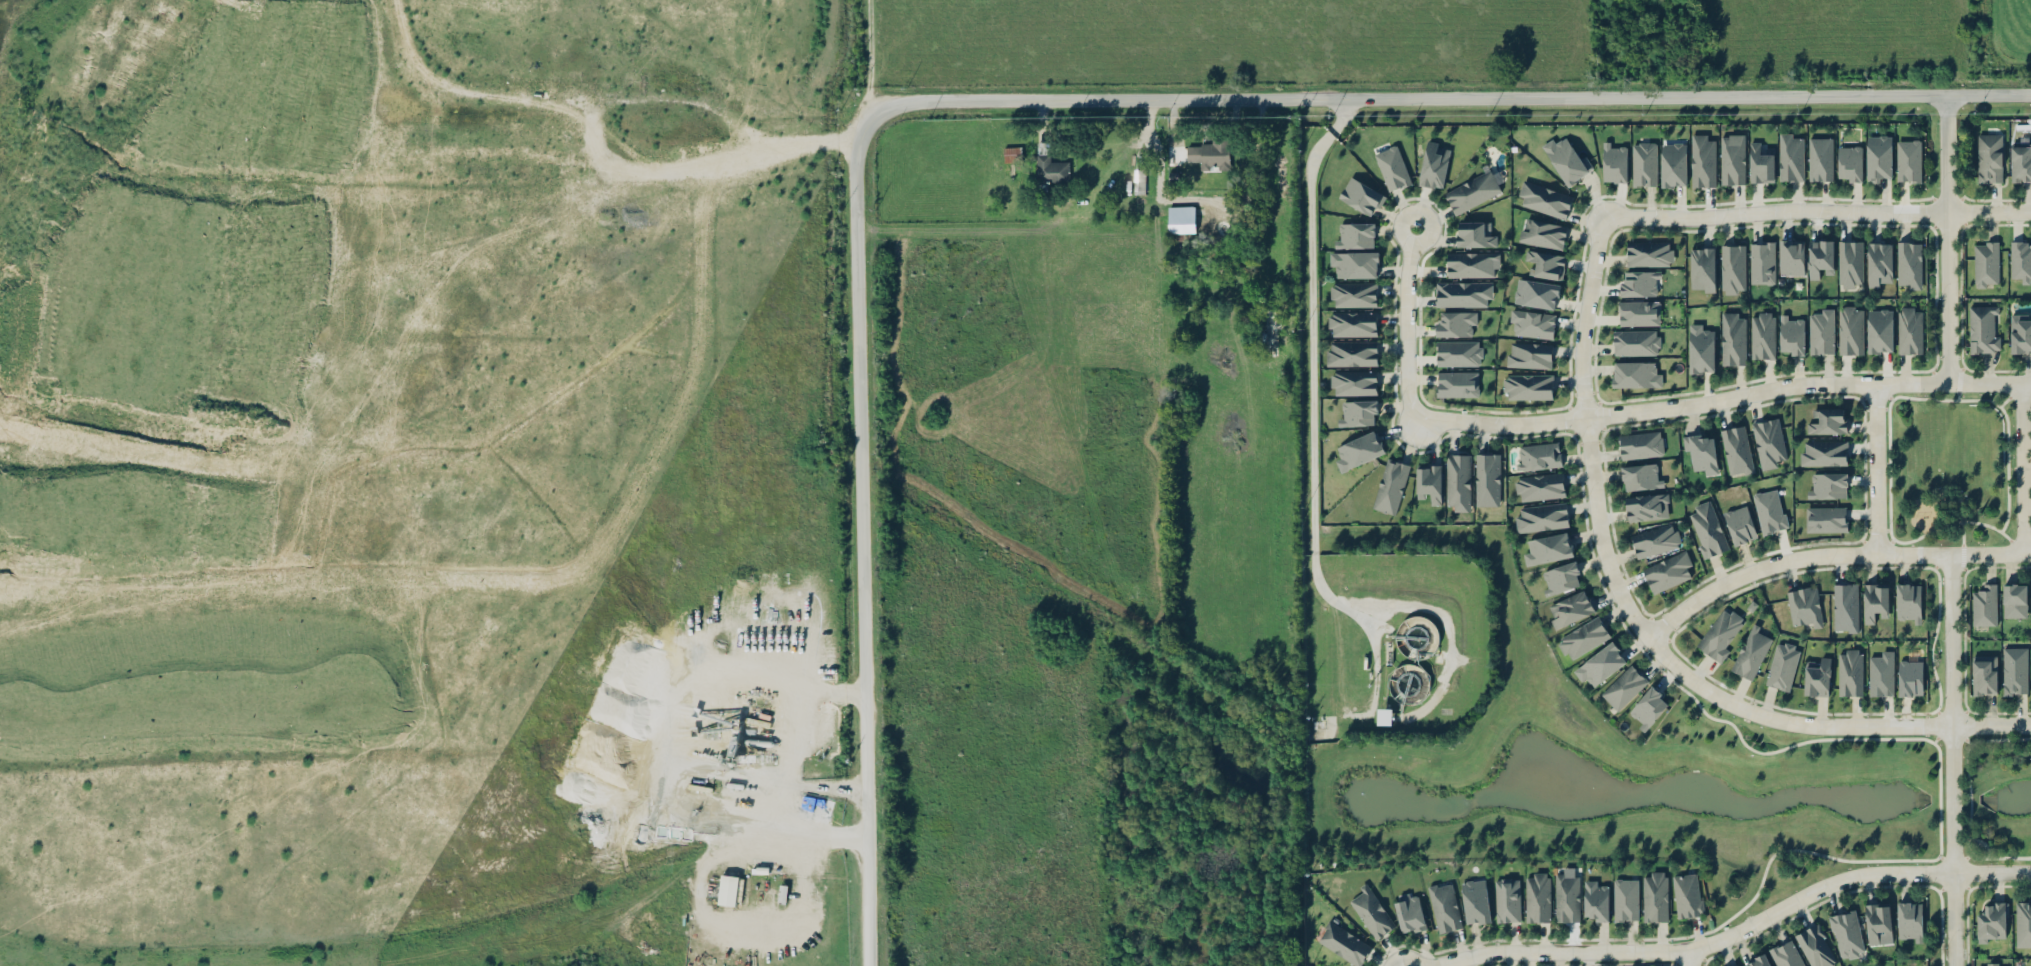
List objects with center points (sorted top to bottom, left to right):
road: (870, 62)
road: (1446, 97)
road: (785, 149)
building: (1012, 153)
building: (1211, 153)
building: (1791, 156)
building: (1879, 157)
building: (1989, 157)
building: (1566, 158)
building: (1732, 158)
building: (1821, 159)
building: (1703, 160)
building: (1909, 160)
building: (1614, 161)
building: (1761, 162)
building: (2020, 162)
building: (1849, 163)
building: (1434, 164)
building: (1644, 164)
building: (1673, 164)
building: (1049, 165)
building: (1392, 167)
building: (1139, 181)
building: (1473, 191)
building: (1361, 196)
building: (1545, 199)
road: (1818, 211)
building: (1180, 227)
building: (1542, 233)
building: (1354, 234)
building: (1473, 234)
road: (1948, 239)
building: (1649, 253)
building: (1791, 256)
building: (1820, 258)
building: (2020, 261)
building: (1762, 262)
building: (1986, 262)
building: (1546, 263)
building: (1850, 263)
building: (1879, 263)
building: (1354, 264)
building: (1472, 264)
building: (1909, 264)
building: (1733, 268)
building: (1701, 269)
building: (1638, 283)
building: (1476, 293)
building: (1536, 293)
building: (1353, 294)
building: (1638, 313)
road: (1408, 321)
building: (1352, 323)
building: (1456, 323)
building: (1532, 323)
building: (1983, 328)
building: (1851, 329)
building: (1909, 329)
building: (1879, 330)
building: (1269, 331)
building: (1821, 331)
building: (2020, 333)
building: (1762, 334)
building: (1791, 334)
building: (1733, 337)
building: (1636, 342)
building: (1701, 348)
building: (1458, 352)
building: (1352, 353)
building: (1529, 355)
road: (1311, 370)
building: (1636, 374)
road: (380, 381)
building: (1353, 382)
building: (1457, 384)
building: (1527, 386)
road: (1884, 391)
road: (1958, 391)
road: (2009, 394)
road: (1721, 399)
road: (1888, 404)
building: (1358, 412)
building: (1828, 420)
building: (1768, 442)
building: (1640, 445)
building: (1736, 449)
building: (1358, 450)
building: (1700, 452)
building: (1823, 452)
building: (1537, 456)
road: (1877, 468)
road: (2022, 468)
building: (1641, 476)
building: (1487, 478)
building: (1429, 481)
building: (1458, 482)
building: (1390, 485)
building: (1827, 485)
building: (1539, 487)
building: (1646, 506)
building: (1769, 510)
building: (1541, 516)
building: (1825, 518)
building: (1740, 524)
building: (1707, 529)
road: (1962, 537)
building: (1656, 539)
road: (2012, 541)
road: (860, 544)
road: (1885, 545)
building: (1548, 548)
road: (1991, 553)
road: (1788, 560)
building: (1667, 571)
building: (1560, 577)
road: (513, 580)
road: (1620, 593)
building: (2014, 600)
building: (1875, 601)
building: (1908, 602)
building: (1984, 603)
building: (1845, 606)
building: (1804, 607)
road: (1428, 608)
building: (1569, 608)
building: (1720, 632)
building: (1583, 638)
building: (1751, 651)
building: (1783, 664)
building: (1600, 665)
building: (2014, 670)
building: (1849, 671)
building: (1881, 673)
building: (1984, 674)
building: (1817, 676)
building: (1909, 677)
building: (1624, 686)
building: (1648, 707)
building: (1385, 716)
road: (1991, 726)
road: (792, 735)
road: (1960, 736)
road: (1952, 760)
road: (1968, 799)
road: (1980, 843)
road: (1961, 863)
building: (767, 870)
road: (1992, 872)
building: (728, 890)
building: (1687, 894)
building: (1654, 896)
building: (1537, 897)
building: (1566, 897)
road: (697, 899)
building: (1626, 899)
building: (1475, 900)
building: (1507, 900)
building: (1596, 900)
building: (1445, 906)
building: (1371, 911)
building: (1409, 911)
building: (1877, 920)
building: (1909, 921)
building: (1992, 922)
building: (2023, 924)
building: (1846, 934)
building: (1344, 942)
building: (1815, 946)
road: (1697, 947)
building: (1786, 954)
road: (1690, 958)
building: (1758, 961)
building: (1992, 964)
building: (1737, 965)

